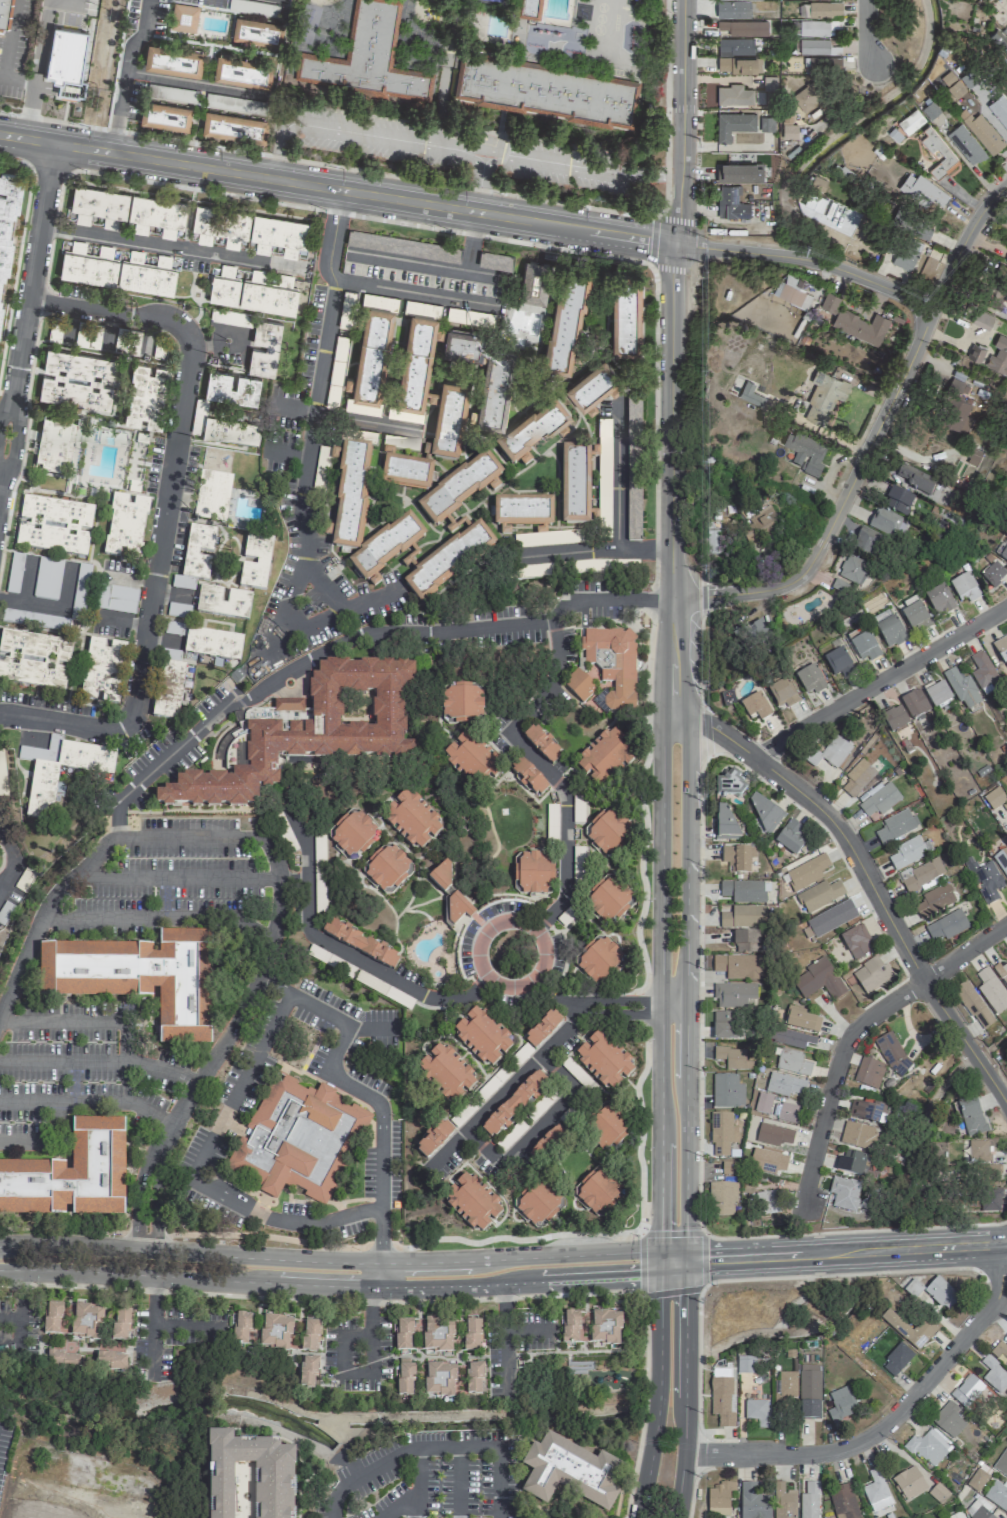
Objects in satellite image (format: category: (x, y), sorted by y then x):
road: (65, 1)
building: (253, 8)
building: (530, 9)
building: (733, 9)
building: (822, 9)
building: (5, 13)
building: (183, 17)
building: (742, 27)
building: (818, 27)
road: (866, 31)
building: (256, 32)
road: (11, 41)
building: (735, 46)
building: (818, 46)
building: (369, 55)
building: (66, 60)
building: (173, 60)
building: (737, 65)
road: (35, 69)
building: (242, 71)
road: (445, 72)
road: (126, 74)
road: (194, 82)
building: (770, 83)
building: (1005, 89)
building: (547, 91)
building: (172, 93)
building: (734, 95)
building: (807, 95)
building: (999, 109)
building: (165, 116)
road: (681, 121)
building: (911, 122)
building: (734, 124)
building: (766, 124)
building: (234, 127)
road: (356, 132)
building: (984, 132)
building: (966, 144)
building: (937, 152)
road: (13, 160)
road: (48, 166)
road: (581, 166)
road: (479, 181)
road: (436, 182)
road: (336, 189)
building: (924, 190)
building: (814, 201)
building: (731, 203)
building: (98, 204)
building: (5, 214)
building: (156, 215)
road: (675, 220)
building: (220, 226)
building: (923, 230)
building: (278, 235)
road: (652, 240)
road: (963, 241)
road: (165, 244)
road: (692, 245)
building: (409, 246)
building: (903, 252)
road: (807, 259)
building: (496, 260)
road: (16, 261)
road: (439, 264)
road: (670, 264)
building: (87, 266)
building: (146, 273)
building: (256, 276)
building: (285, 281)
building: (534, 282)
building: (224, 290)
building: (792, 292)
road: (413, 293)
building: (268, 297)
road: (25, 306)
building: (347, 309)
road: (106, 312)
building: (470, 317)
building: (625, 318)
building: (982, 319)
building: (566, 321)
building: (854, 322)
building: (59, 332)
building: (92, 336)
building: (131, 342)
building: (461, 344)
building: (264, 347)
building: (159, 349)
building: (975, 352)
building: (372, 353)
building: (999, 356)
building: (415, 362)
building: (337, 372)
building: (77, 379)
building: (591, 385)
building: (231, 387)
building: (495, 390)
building: (828, 391)
building: (751, 394)
building: (146, 395)
building: (199, 415)
building: (960, 419)
building: (448, 422)
road: (361, 423)
building: (532, 430)
building: (231, 432)
road: (310, 433)
building: (399, 444)
building: (55, 445)
building: (804, 452)
building: (215, 457)
building: (972, 458)
building: (633, 467)
building: (322, 470)
building: (604, 472)
building: (406, 473)
road: (617, 476)
building: (351, 478)
road: (671, 479)
building: (914, 479)
building: (574, 484)
building: (459, 487)
building: (212, 495)
building: (898, 500)
road: (840, 501)
building: (521, 512)
building: (883, 521)
building: (757, 524)
building: (55, 525)
building: (125, 526)
road: (160, 530)
building: (550, 537)
building: (714, 538)
building: (865, 541)
road: (594, 549)
building: (197, 552)
building: (1004, 556)
building: (447, 560)
building: (255, 562)
building: (603, 565)
building: (853, 569)
building: (533, 571)
building: (18, 573)
building: (49, 577)
building: (992, 577)
building: (182, 583)
building: (839, 585)
building: (964, 589)
building: (116, 598)
building: (939, 601)
building: (222, 602)
building: (178, 610)
road: (335, 610)
building: (913, 616)
building: (889, 631)
building: (751, 634)
building: (212, 644)
building: (863, 647)
building: (1001, 649)
building: (33, 659)
building: (838, 664)
building: (612, 665)
building: (102, 670)
building: (982, 672)
building: (809, 680)
road: (879, 680)
building: (579, 685)
building: (167, 689)
building: (962, 689)
building: (782, 694)
building: (937, 694)
building: (461, 704)
building: (914, 704)
building: (755, 707)
building: (895, 719)
road: (59, 723)
building: (311, 731)
building: (541, 745)
building: (834, 751)
building: (604, 757)
building: (471, 760)
road: (544, 767)
building: (528, 777)
road: (639, 779)
building: (858, 779)
building: (728, 783)
building: (41, 795)
building: (994, 798)
building: (879, 799)
road: (115, 808)
building: (762, 811)
building: (412, 820)
building: (724, 822)
building: (551, 824)
building: (895, 826)
building: (608, 831)
building: (352, 833)
building: (790, 837)
building: (907, 853)
road: (13, 857)
building: (736, 859)
building: (1002, 861)
building: (578, 866)
building: (386, 868)
building: (531, 872)
building: (806, 872)
building: (921, 875)
road: (177, 879)
road: (867, 882)
building: (742, 891)
building: (819, 895)
building: (607, 899)
building: (932, 901)
road: (42, 915)
road: (158, 917)
road: (514, 917)
building: (743, 917)
building: (827, 920)
road: (660, 927)
building: (946, 927)
building: (746, 941)
building: (856, 942)
building: (359, 944)
road: (344, 952)
building: (598, 960)
building: (738, 967)
building: (1002, 972)
building: (870, 974)
building: (817, 980)
building: (140, 981)
road: (684, 987)
building: (991, 990)
building: (733, 995)
building: (973, 1004)
road: (602, 1005)
road: (279, 1018)
building: (800, 1019)
road: (79, 1024)
building: (724, 1025)
building: (542, 1029)
road: (853, 1029)
building: (481, 1036)
building: (789, 1038)
building: (892, 1053)
building: (732, 1058)
road: (98, 1060)
building: (603, 1060)
building: (791, 1062)
building: (868, 1072)
building: (445, 1073)
building: (785, 1085)
road: (506, 1088)
building: (726, 1091)
road: (89, 1100)
building: (513, 1103)
building: (762, 1103)
building: (866, 1111)
building: (785, 1112)
building: (971, 1117)
road: (535, 1125)
building: (606, 1126)
building: (721, 1133)
building: (773, 1134)
building: (857, 1135)
building: (297, 1139)
building: (434, 1139)
building: (546, 1144)
road: (22, 1147)
building: (978, 1151)
building: (767, 1160)
building: (851, 1162)
building: (730, 1168)
building: (993, 1173)
building: (70, 1175)
building: (597, 1189)
building: (843, 1193)
road: (661, 1196)
building: (722, 1198)
building: (471, 1201)
building: (984, 1201)
building: (538, 1202)
building: (767, 1202)
road: (853, 1231)
road: (640, 1238)
traffic signals: (661, 1250)
road: (845, 1253)
road: (672, 1256)
road: (330, 1260)
road: (661, 1262)
traffic signals: (684, 1262)
road: (672, 1268)
road: (992, 1268)
road: (838, 1273)
traffic signals: (661, 1274)
road: (582, 1279)
road: (251, 1280)
building: (913, 1288)
road: (19, 1292)
road: (152, 1293)
building: (941, 1293)
road: (504, 1297)
road: (433, 1301)
road: (370, 1311)
road: (9, 1316)
building: (55, 1318)
building: (86, 1321)
building: (120, 1323)
road: (185, 1326)
building: (590, 1326)
building: (924, 1329)
building: (241, 1330)
building: (309, 1334)
building: (402, 1334)
building: (437, 1334)
building: (471, 1334)
road: (530, 1334)
building: (415, 1335)
road: (17, 1338)
road: (151, 1343)
building: (1002, 1349)
road: (506, 1351)
building: (63, 1359)
building: (896, 1359)
building: (110, 1360)
building: (745, 1364)
road: (698, 1369)
building: (307, 1371)
road: (370, 1372)
building: (993, 1374)
building: (474, 1377)
building: (404, 1379)
building: (439, 1379)
building: (784, 1389)
road: (684, 1390)
building: (966, 1390)
building: (809, 1391)
road: (655, 1396)
building: (722, 1400)
building: (842, 1403)
building: (757, 1412)
building: (948, 1419)
road: (885, 1420)
road: (438, 1445)
building: (928, 1447)
building: (1001, 1463)
building: (569, 1471)
building: (977, 1479)
road: (416, 1481)
road: (457, 1481)
building: (909, 1483)
building: (875, 1491)
building: (997, 1494)
building: (719, 1498)
building: (809, 1500)
building: (783, 1501)
building: (753, 1502)
building: (843, 1502)
road: (396, 1504)
building: (977, 1509)
road: (333, 1513)
building: (957, 1515)

